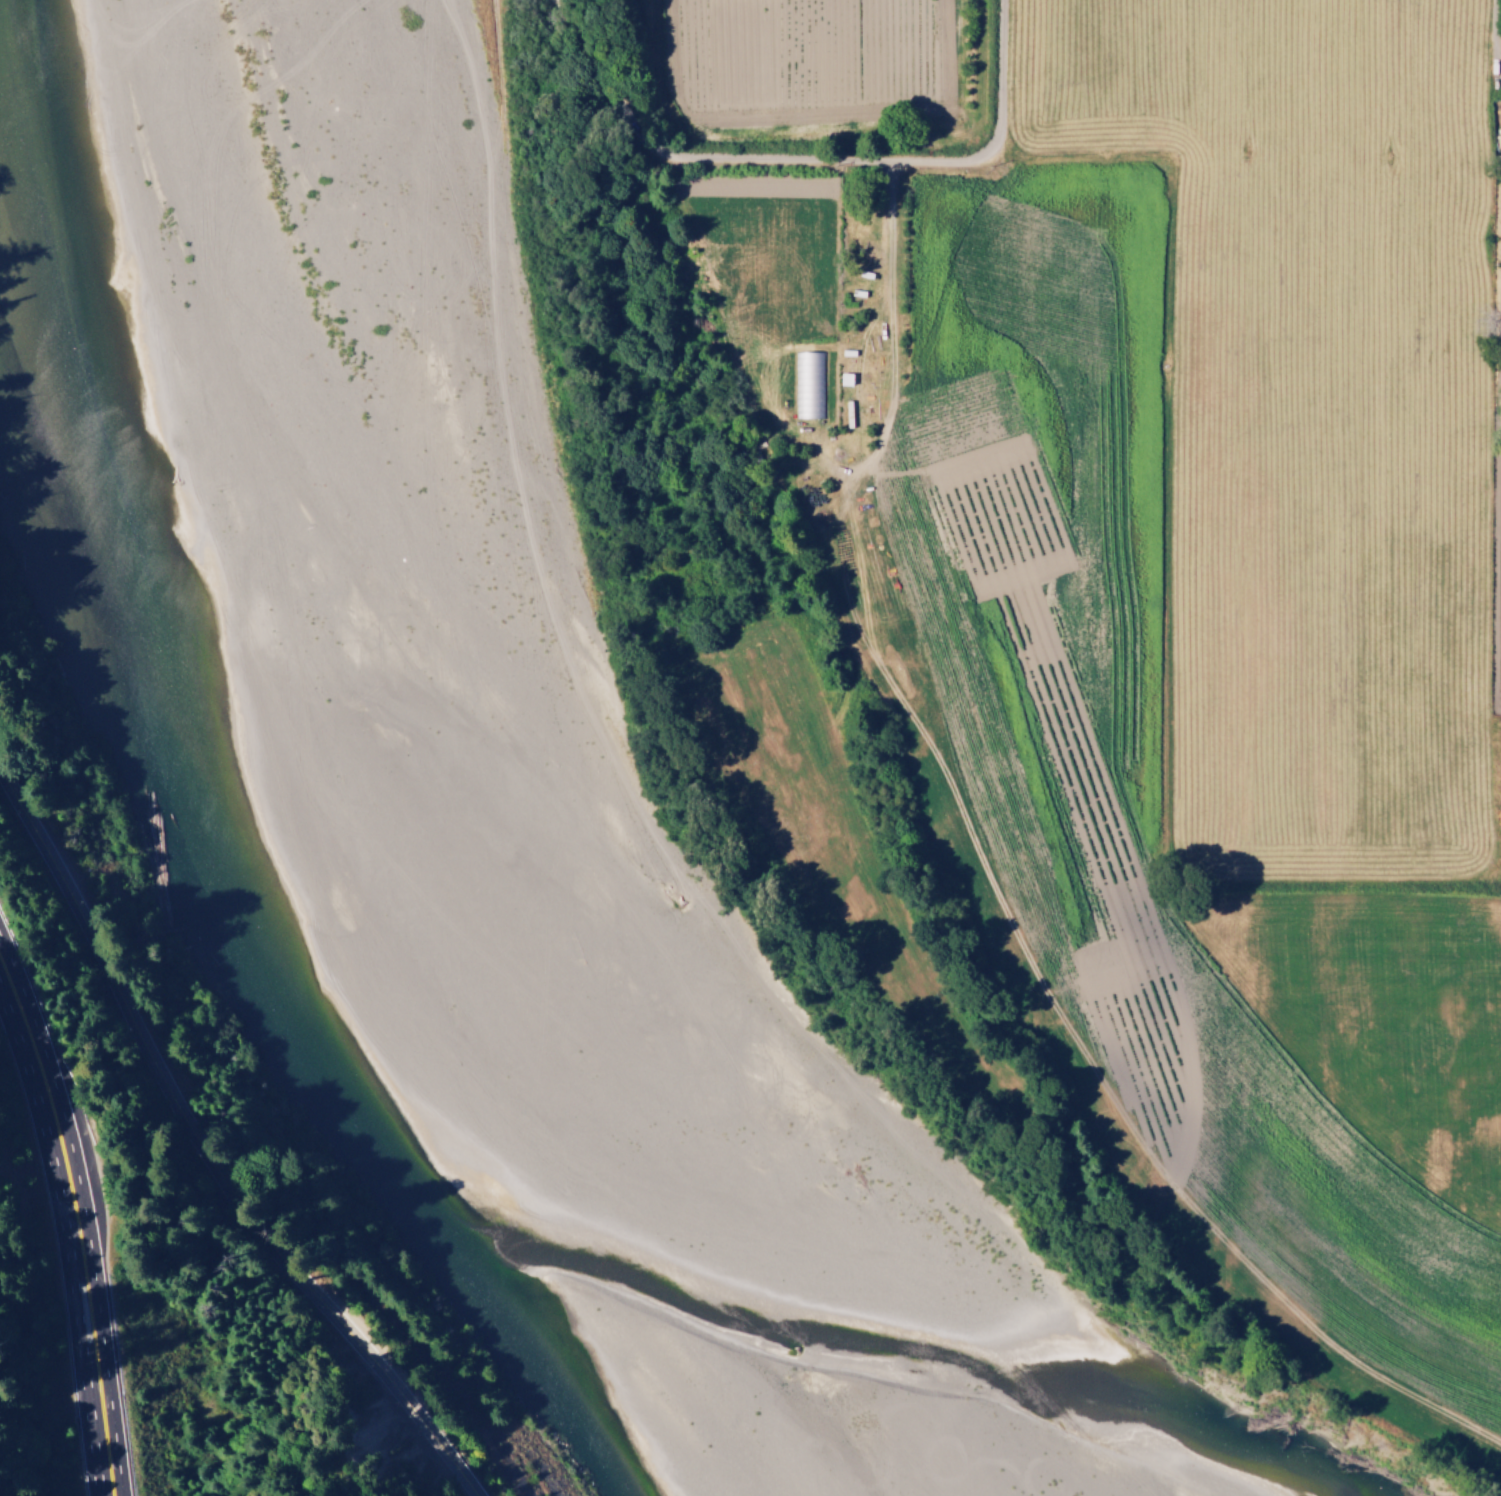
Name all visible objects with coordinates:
road: (1492, 69)
road: (1003, 71)
river: (390, 143)
road: (736, 162)
road: (1001, 180)
road: (904, 193)
road: (956, 222)
building: (846, 379)
building: (808, 385)
river: (492, 846)
road: (204, 1160)
road: (80, 1220)

